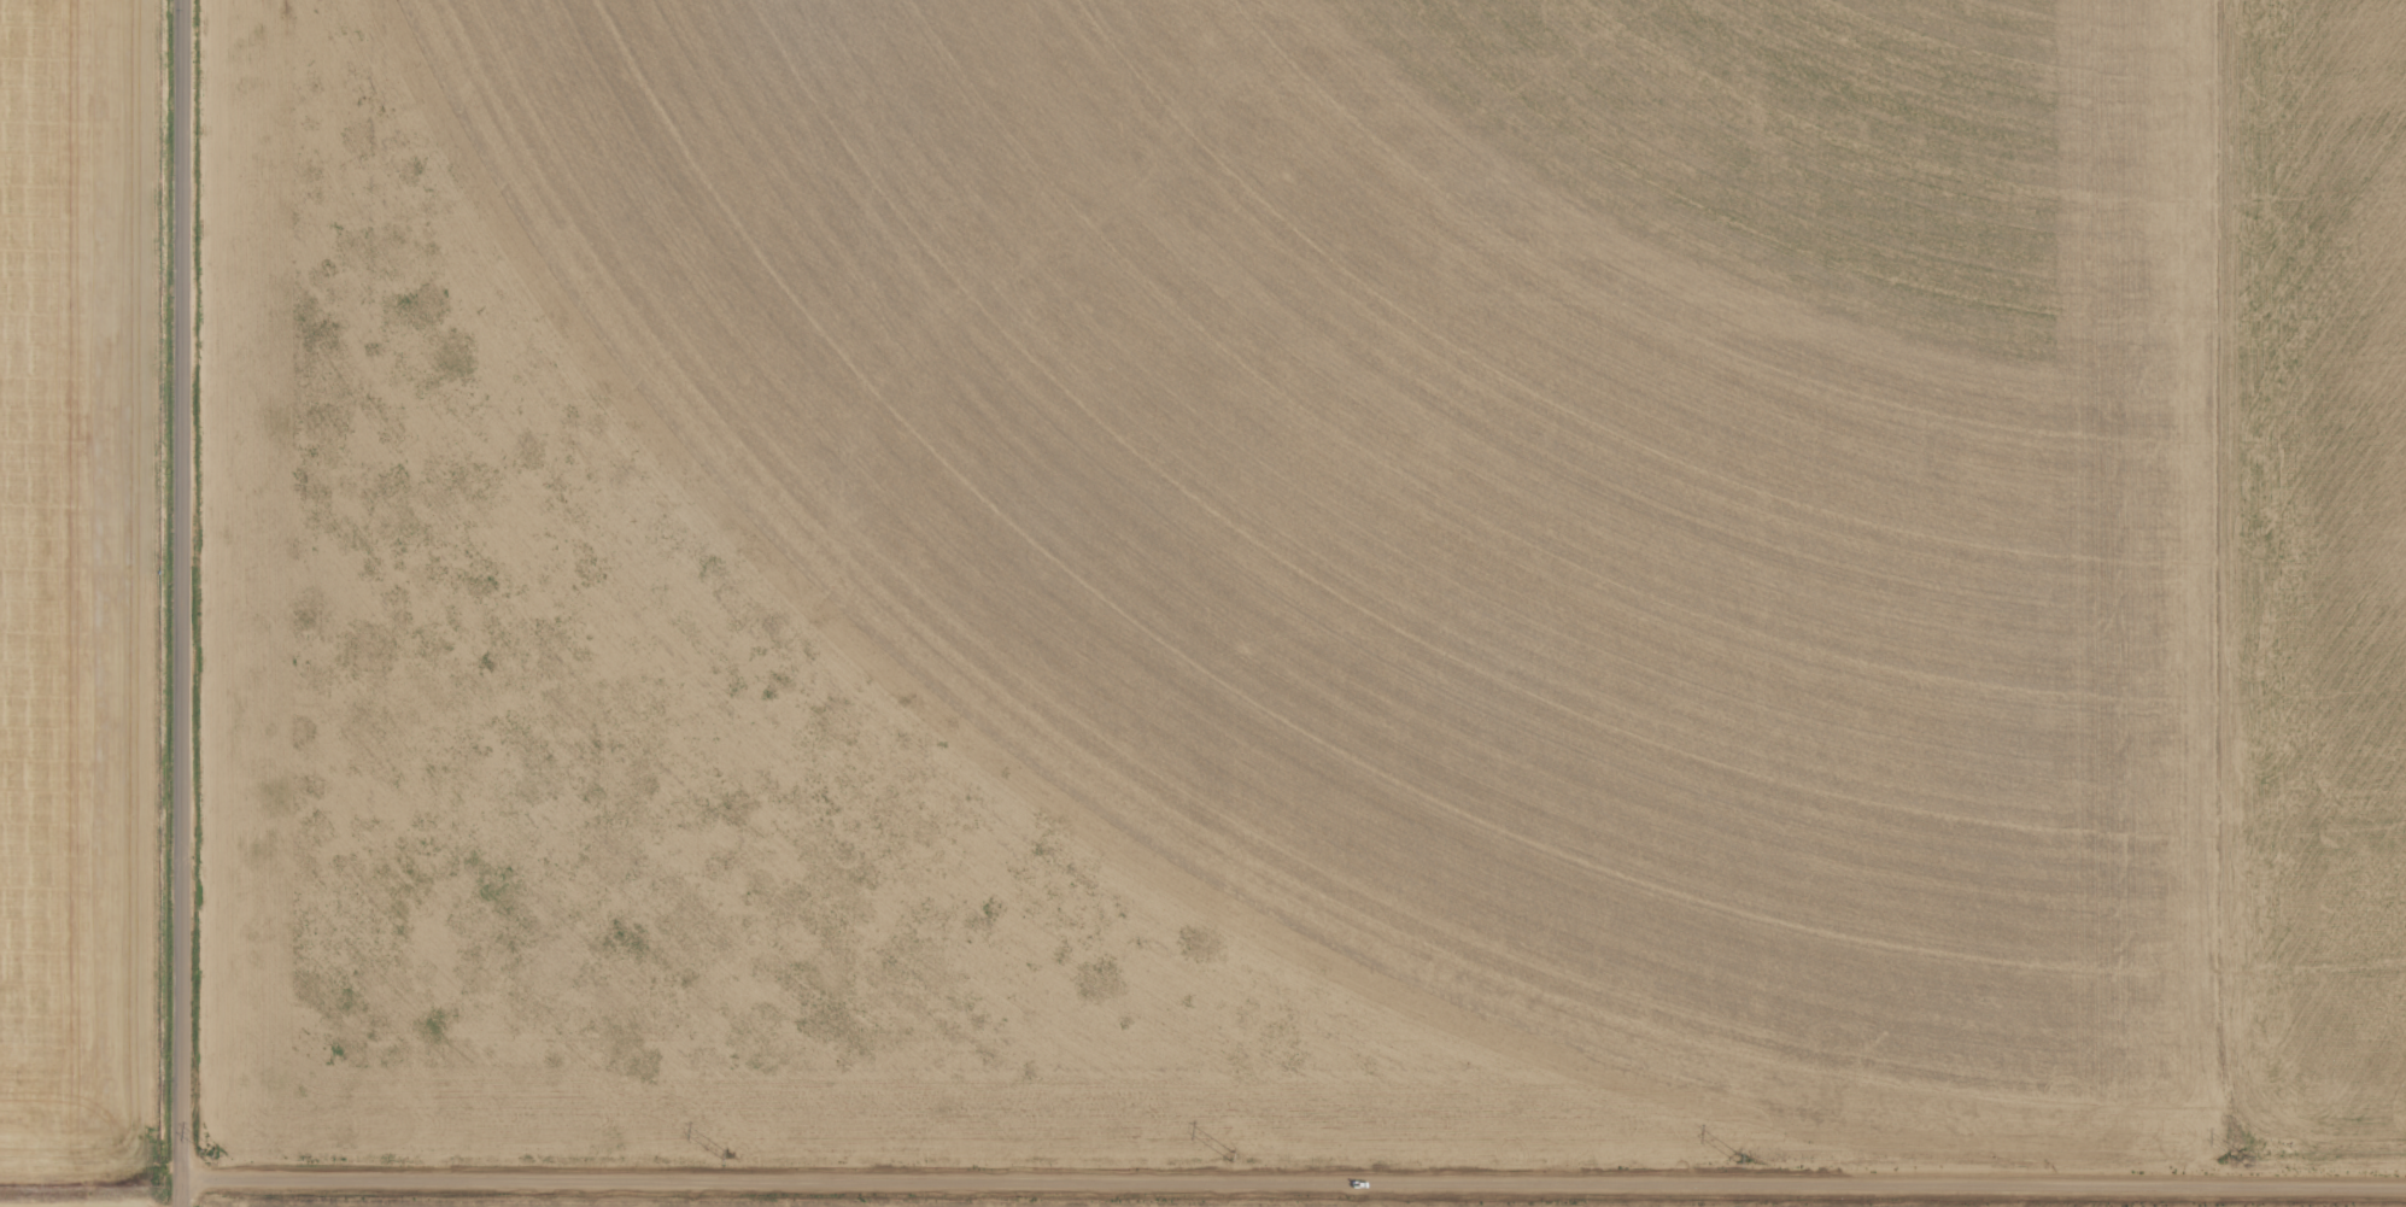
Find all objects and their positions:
road: (183, 603)
power tower: (215, 1155)
power tower: (722, 1155)
power tower: (1229, 1158)
power tower: (1737, 1160)
power tower: (2244, 1164)
road: (90, 1179)
road: (1294, 1180)

